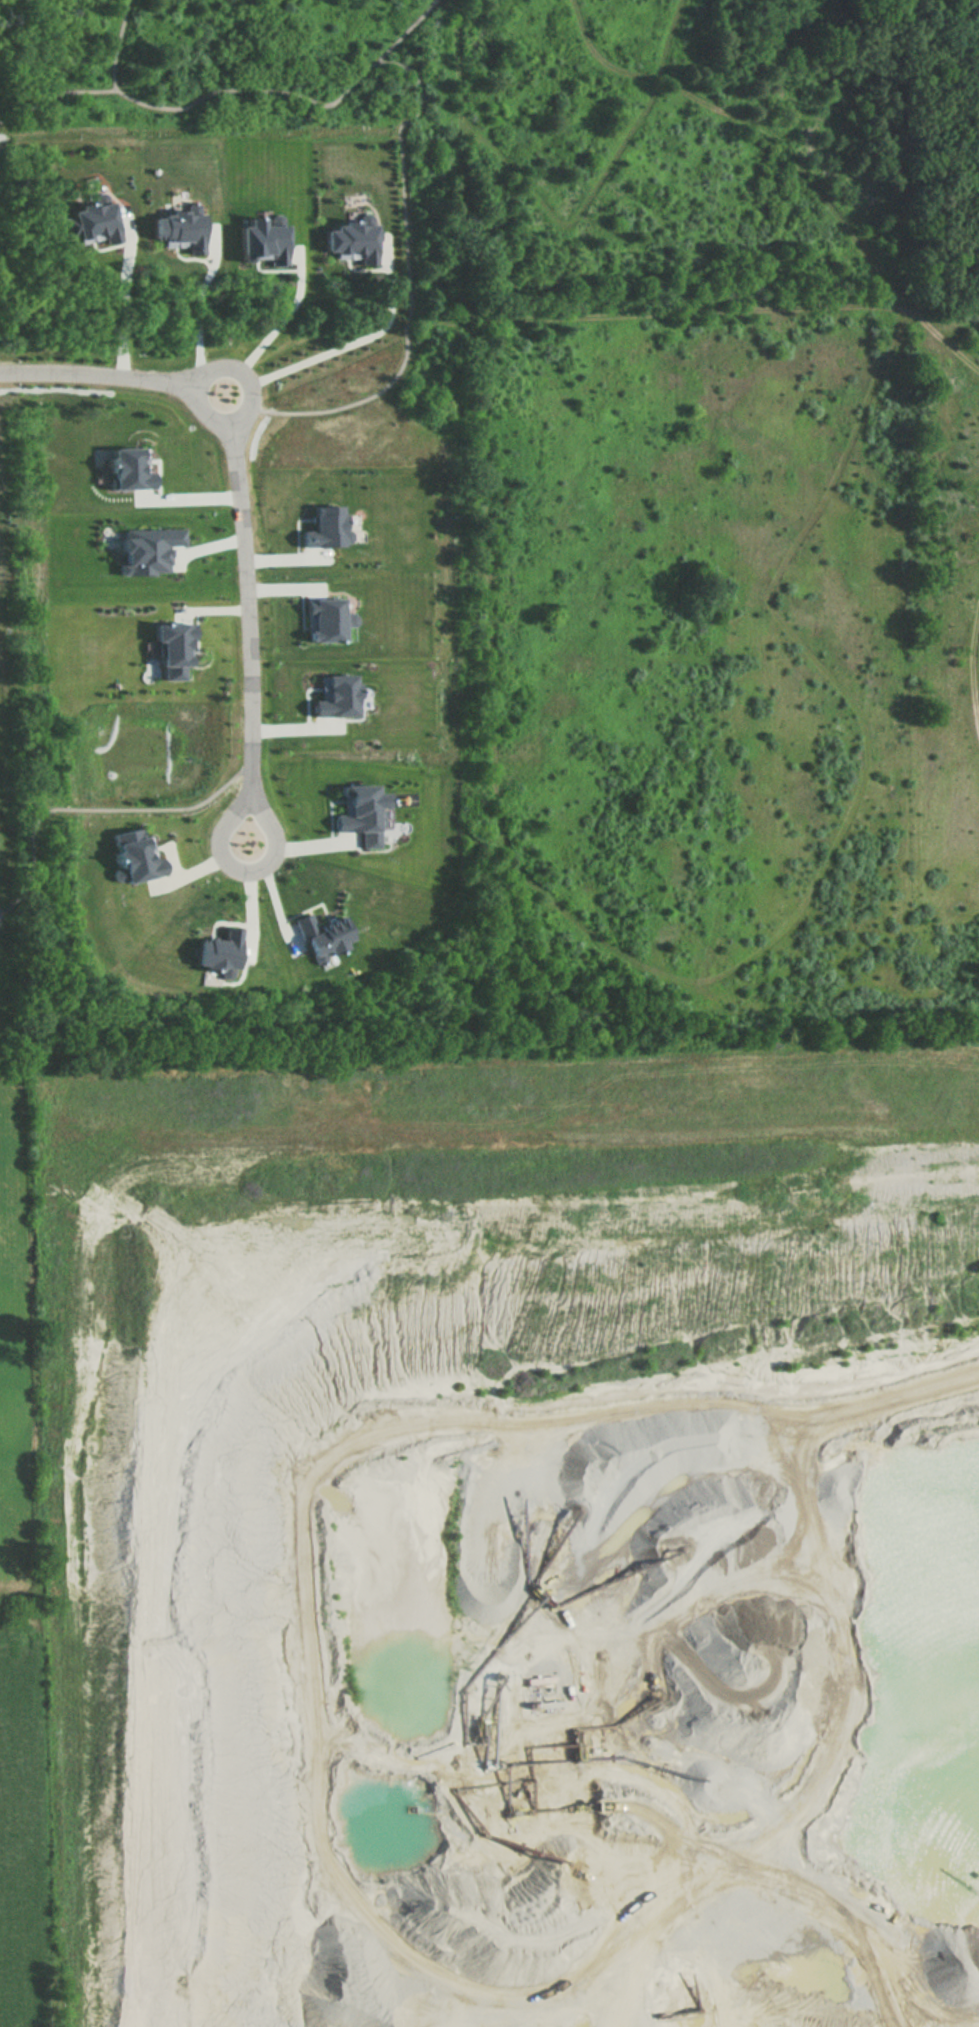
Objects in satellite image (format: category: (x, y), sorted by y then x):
road: (122, 44)
road: (57, 94)
road: (296, 95)
road: (793, 154)
building: (94, 220)
building: (180, 227)
building: (263, 241)
building: (352, 241)
road: (413, 283)
road: (201, 299)
road: (123, 311)
road: (695, 312)
road: (283, 320)
road: (349, 344)
road: (102, 375)
road: (243, 376)
building: (130, 467)
road: (192, 496)
building: (324, 535)
building: (147, 549)
building: (325, 620)
building: (173, 647)
road: (978, 665)
building: (336, 695)
road: (255, 710)
road: (99, 810)
building: (362, 816)
quarry: (964, 850)
building: (134, 853)
road: (3, 914)
building: (319, 929)
building: (220, 948)
road: (722, 979)
road: (469, 1422)
quarry: (516, 1540)
road: (783, 1612)
road: (862, 1767)

